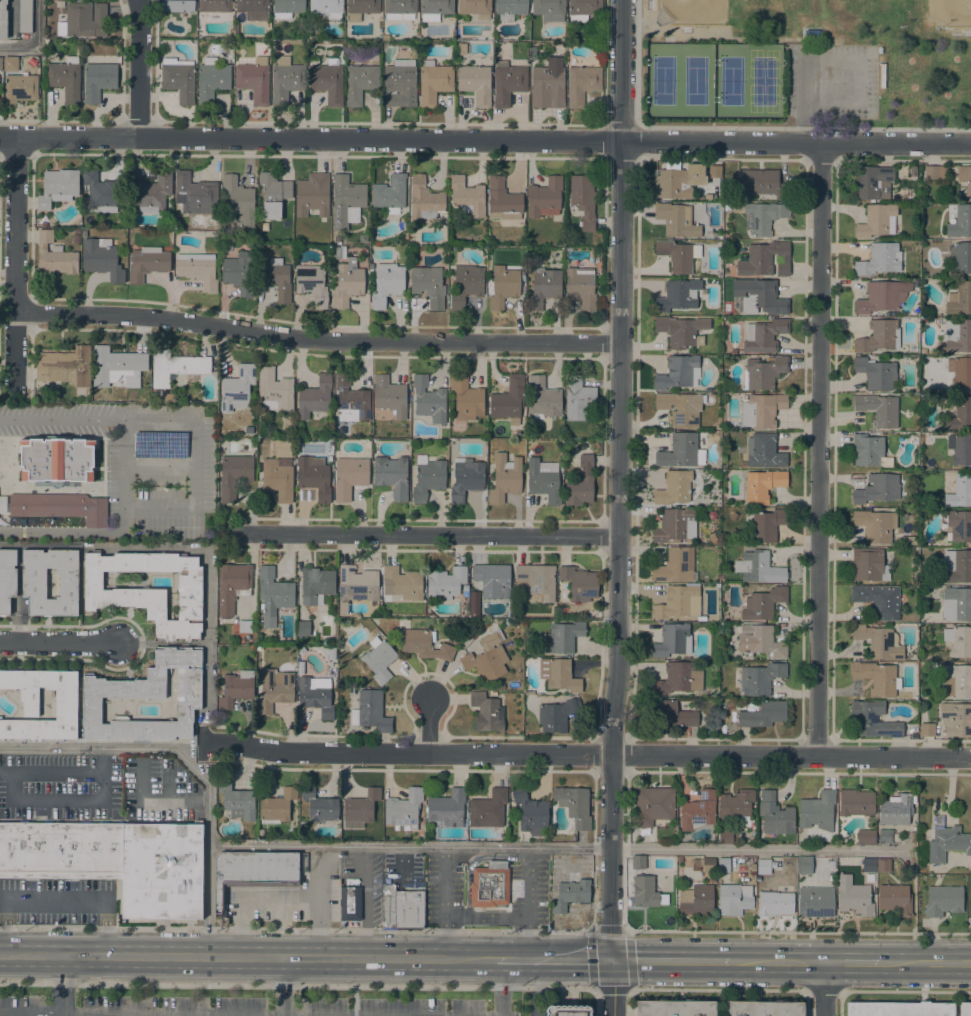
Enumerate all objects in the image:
building: (60, 3)
building: (178, 5)
building: (253, 7)
building: (287, 7)
building: (475, 7)
building: (549, 7)
building: (328, 8)
building: (361, 8)
building: (435, 8)
building: (510, 8)
building: (213, 9)
building: (400, 9)
building: (583, 9)
park: (802, 15)
building: (24, 16)
building: (3, 20)
building: (83, 20)
building: (811, 33)
road: (712, 37)
road: (36, 39)
building: (461, 48)
building: (32, 61)
park: (806, 62)
road: (851, 62)
building: (1, 63)
building: (11, 63)
road: (141, 69)
building: (97, 77)
building: (65, 78)
building: (178, 79)
building: (212, 79)
building: (254, 79)
building: (286, 79)
park: (713, 79)
parking lot: (830, 80)
building: (327, 81)
building: (433, 81)
building: (360, 82)
building: (400, 82)
building: (507, 82)
building: (476, 83)
building: (548, 84)
building: (582, 84)
building: (20, 88)
road: (803, 128)
road: (485, 140)
building: (913, 170)
building: (714, 171)
building: (935, 172)
building: (965, 178)
building: (678, 179)
building: (872, 181)
building: (761, 183)
building: (58, 187)
building: (103, 192)
building: (151, 193)
building: (195, 194)
building: (273, 194)
building: (312, 194)
building: (389, 194)
building: (467, 196)
building: (544, 197)
building: (345, 198)
building: (424, 199)
building: (583, 199)
building: (502, 200)
building: (238, 202)
building: (763, 216)
building: (676, 219)
building: (877, 220)
building: (959, 220)
building: (77, 230)
building: (83, 234)
building: (76, 238)
building: (337, 238)
building: (338, 252)
building: (54, 255)
building: (679, 256)
building: (960, 256)
building: (879, 258)
building: (102, 259)
building: (765, 259)
building: (147, 263)
road: (17, 268)
building: (197, 269)
building: (238, 273)
building: (276, 278)
building: (313, 283)
building: (347, 283)
building: (387, 284)
building: (428, 284)
building: (465, 284)
building: (504, 284)
building: (907, 285)
building: (544, 286)
building: (581, 287)
building: (678, 295)
building: (759, 296)
building: (878, 297)
building: (959, 298)
building: (681, 330)
building: (764, 335)
building: (957, 335)
building: (879, 336)
road: (319, 342)
building: (115, 365)
building: (65, 366)
building: (175, 366)
building: (764, 371)
building: (960, 371)
building: (676, 372)
building: (876, 373)
building: (238, 388)
building: (275, 390)
building: (390, 396)
building: (170, 397)
building: (315, 397)
building: (466, 398)
building: (509, 399)
building: (542, 399)
building: (577, 399)
building: (351, 400)
building: (428, 400)
building: (681, 407)
building: (878, 409)
building: (761, 410)
building: (960, 414)
road: (62, 419)
building: (960, 448)
building: (763, 450)
road: (822, 450)
building: (681, 451)
building: (870, 451)
building: (56, 459)
building: (742, 462)
road: (195, 463)
road: (123, 465)
building: (710, 471)
building: (234, 475)
building: (392, 475)
building: (314, 476)
building: (349, 476)
building: (428, 477)
building: (505, 477)
building: (466, 478)
building: (277, 479)
building: (543, 480)
building: (581, 483)
building: (762, 485)
building: (675, 487)
building: (878, 488)
building: (960, 491)
building: (61, 506)
road: (621, 508)
building: (675, 525)
building: (765, 525)
building: (875, 525)
building: (959, 525)
road: (69, 531)
road: (421, 536)
building: (712, 537)
building: (908, 539)
building: (869, 564)
building: (675, 565)
building: (957, 566)
building: (759, 568)
building: (7, 579)
building: (493, 579)
building: (536, 580)
building: (357, 583)
building: (403, 583)
building: (445, 583)
building: (579, 583)
building: (34, 584)
building: (316, 585)
building: (232, 587)
building: (148, 590)
building: (273, 594)
building: (878, 600)
building: (678, 601)
building: (763, 603)
building: (956, 604)
building: (473, 605)
building: (343, 608)
building: (243, 625)
building: (345, 626)
building: (303, 628)
building: (563, 636)
building: (673, 640)
building: (958, 640)
building: (759, 641)
building: (879, 641)
road: (58, 642)
building: (424, 644)
building: (259, 647)
building: (302, 649)
building: (331, 652)
building: (487, 658)
building: (379, 659)
building: (933, 665)
building: (299, 666)
building: (558, 674)
building: (877, 677)
building: (678, 678)
building: (760, 678)
building: (957, 680)
building: (501, 686)
building: (236, 688)
building: (275, 689)
building: (147, 697)
building: (315, 697)
building: (66, 708)
building: (370, 711)
building: (487, 712)
building: (672, 712)
building: (763, 714)
building: (556, 715)
building: (955, 719)
building: (873, 720)
road: (428, 727)
building: (927, 729)
road: (585, 756)
road: (57, 772)
building: (237, 800)
road: (68, 802)
building: (856, 802)
building: (319, 805)
building: (574, 805)
building: (277, 806)
building: (653, 806)
building: (736, 806)
building: (360, 808)
building: (447, 808)
building: (403, 809)
building: (488, 809)
building: (896, 809)
building: (698, 810)
building: (817, 810)
building: (531, 812)
building: (775, 814)
building: (937, 821)
building: (913, 829)
building: (725, 836)
building: (865, 836)
building: (885, 836)
building: (896, 836)
building: (947, 843)
road: (416, 846)
building: (61, 850)
building: (678, 858)
building: (638, 861)
building: (703, 864)
building: (723, 864)
building: (831, 864)
building: (804, 865)
building: (869, 865)
building: (883, 865)
building: (763, 866)
building: (753, 867)
building: (162, 870)
building: (252, 873)
building: (712, 878)
road: (530, 882)
building: (490, 884)
building: (646, 892)
building: (569, 894)
building: (854, 896)
building: (734, 899)
building: (894, 899)
building: (696, 900)
building: (943, 900)
road: (56, 901)
road: (208, 901)
building: (816, 901)
building: (350, 903)
building: (775, 903)
road: (442, 904)
building: (402, 908)
road: (508, 916)
road: (295, 928)
road: (591, 931)
road: (799, 932)
road: (248, 958)
road: (554, 960)
traffic signals: (612, 960)
road: (671, 961)
road: (777, 962)
road: (852, 962)
road: (926, 962)
road: (63, 985)
road: (297, 985)
road: (283, 986)
road: (501, 987)
road: (719, 989)
road: (824, 989)
road: (823, 991)
road: (905, 991)
parking lot: (240, 1006)
building: (675, 1008)
building: (763, 1008)
building: (900, 1009)
building: (965, 1009)
building: (567, 1011)
road: (141, 1014)
road: (63, 1015)

